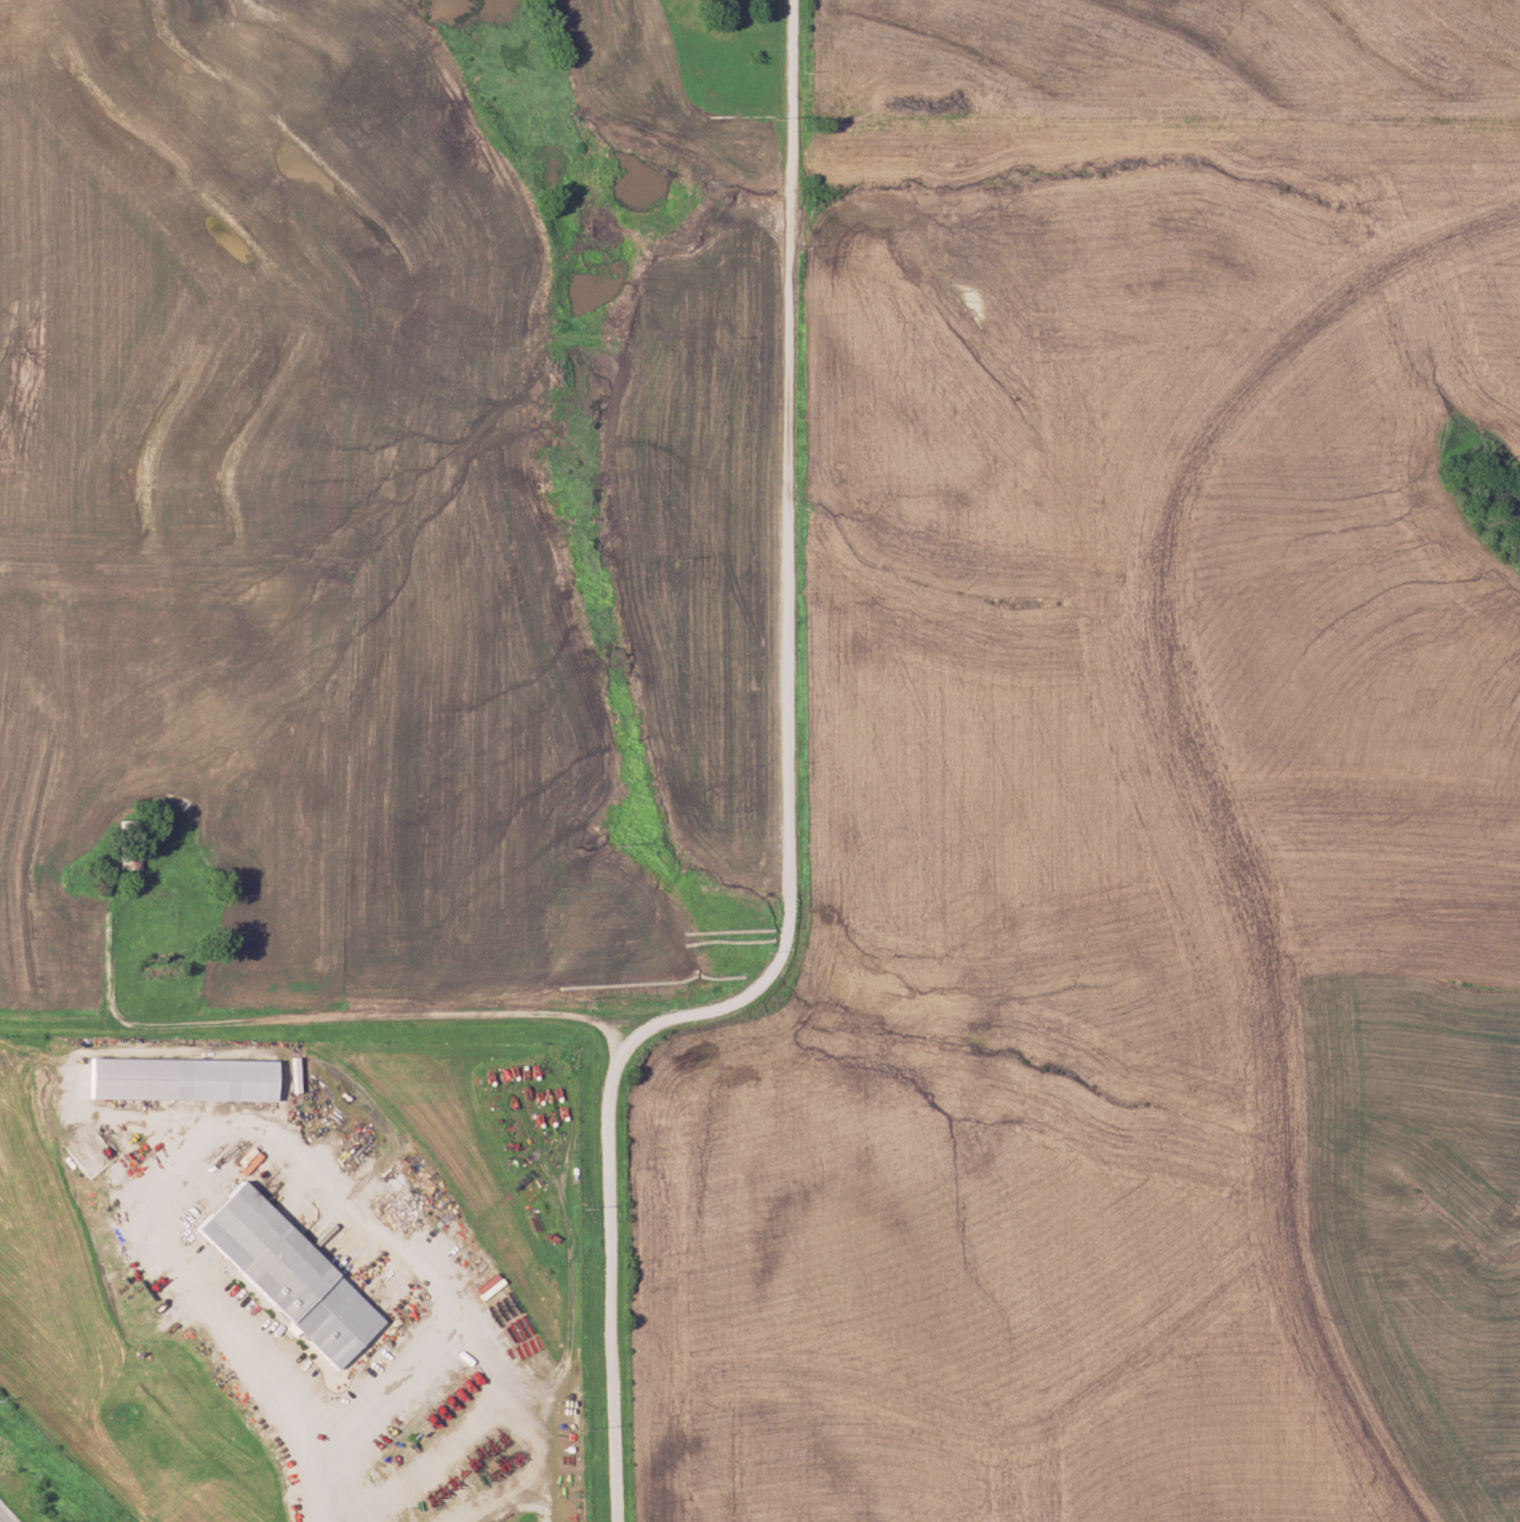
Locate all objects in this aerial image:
road: (790, 813)
building: (129, 854)
road: (318, 1017)
building: (176, 1079)
road: (220, 1166)
building: (283, 1275)
road: (300, 1485)
road: (4, 1516)

